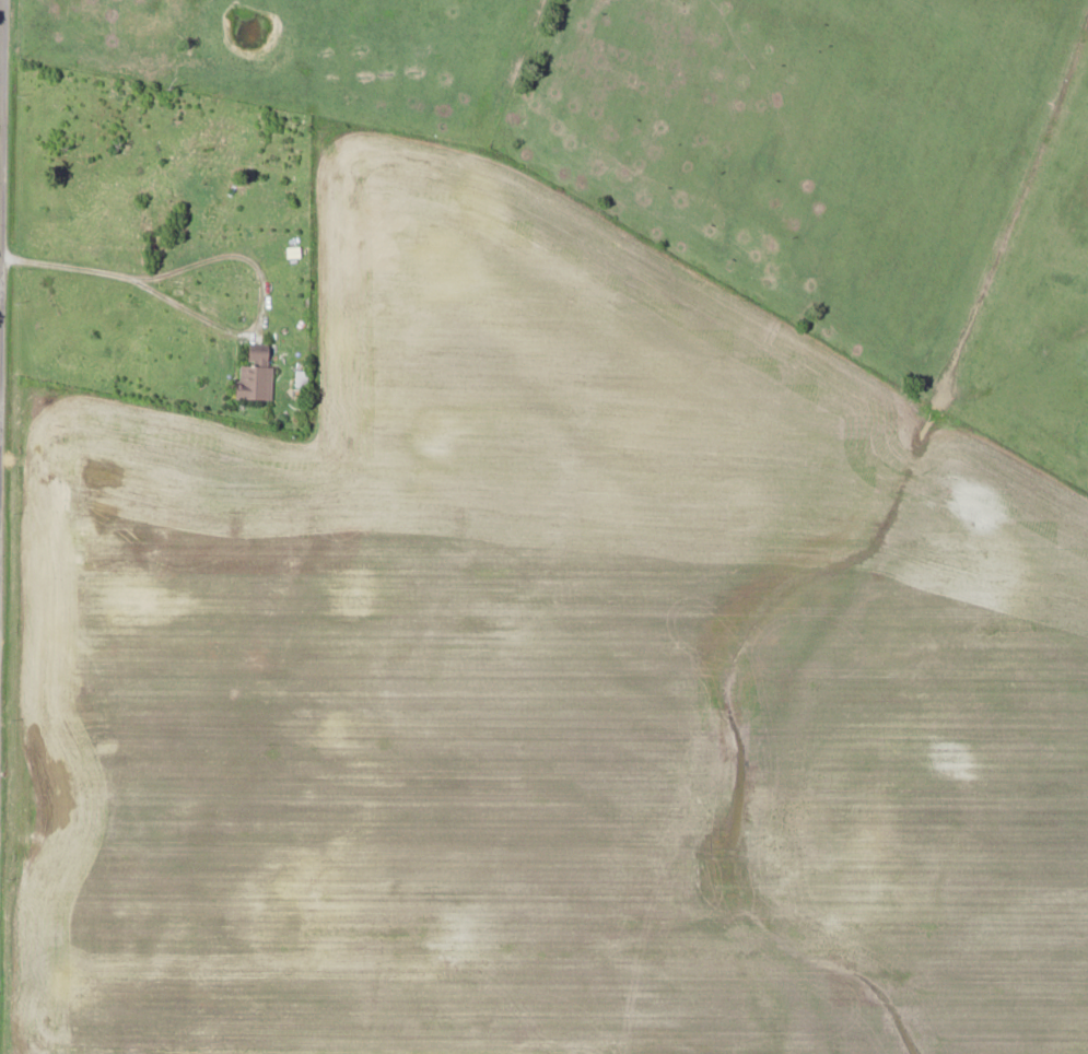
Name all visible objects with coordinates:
road: (2, 199)
building: (1086, 359)
building: (257, 382)
building: (1086, 438)

